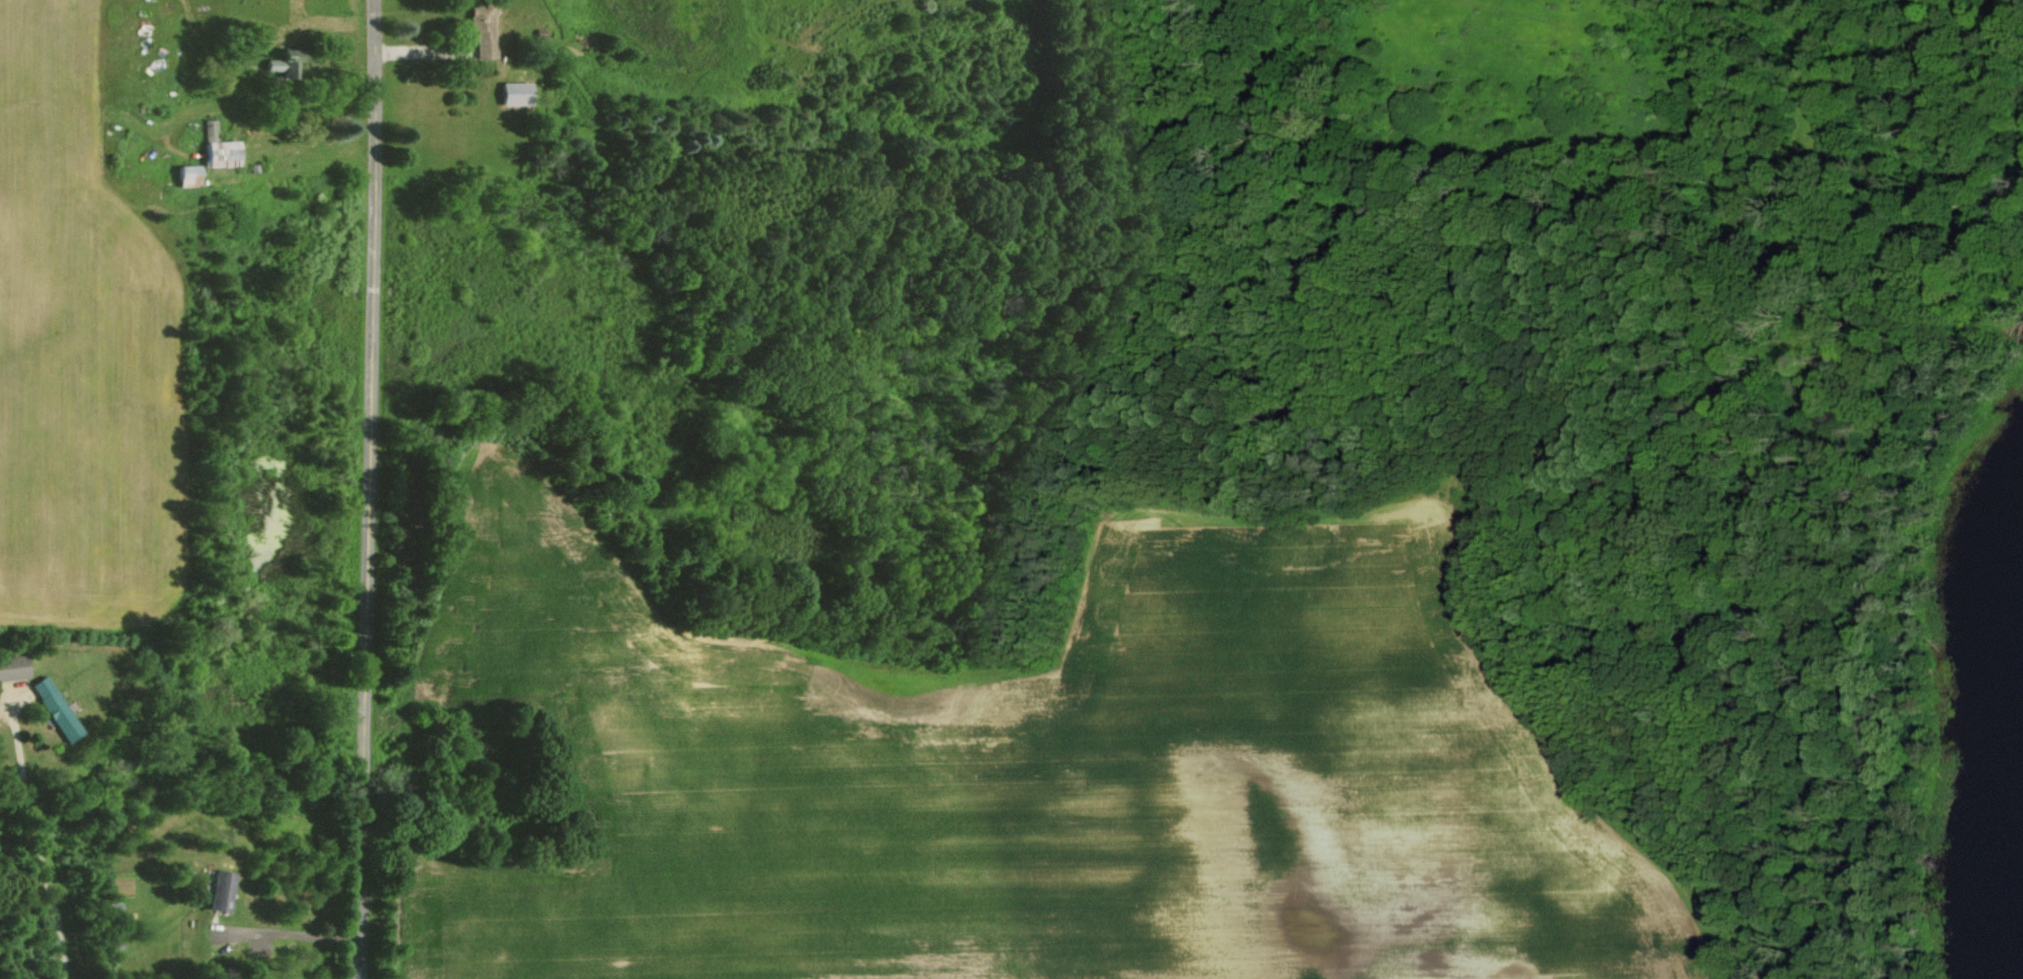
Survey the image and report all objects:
building: (479, 29)
building: (281, 63)
building: (513, 93)
road: (317, 101)
building: (218, 148)
building: (187, 176)
road: (378, 489)
building: (16, 668)
building: (62, 709)
road: (47, 834)
building: (229, 891)
road: (303, 931)

